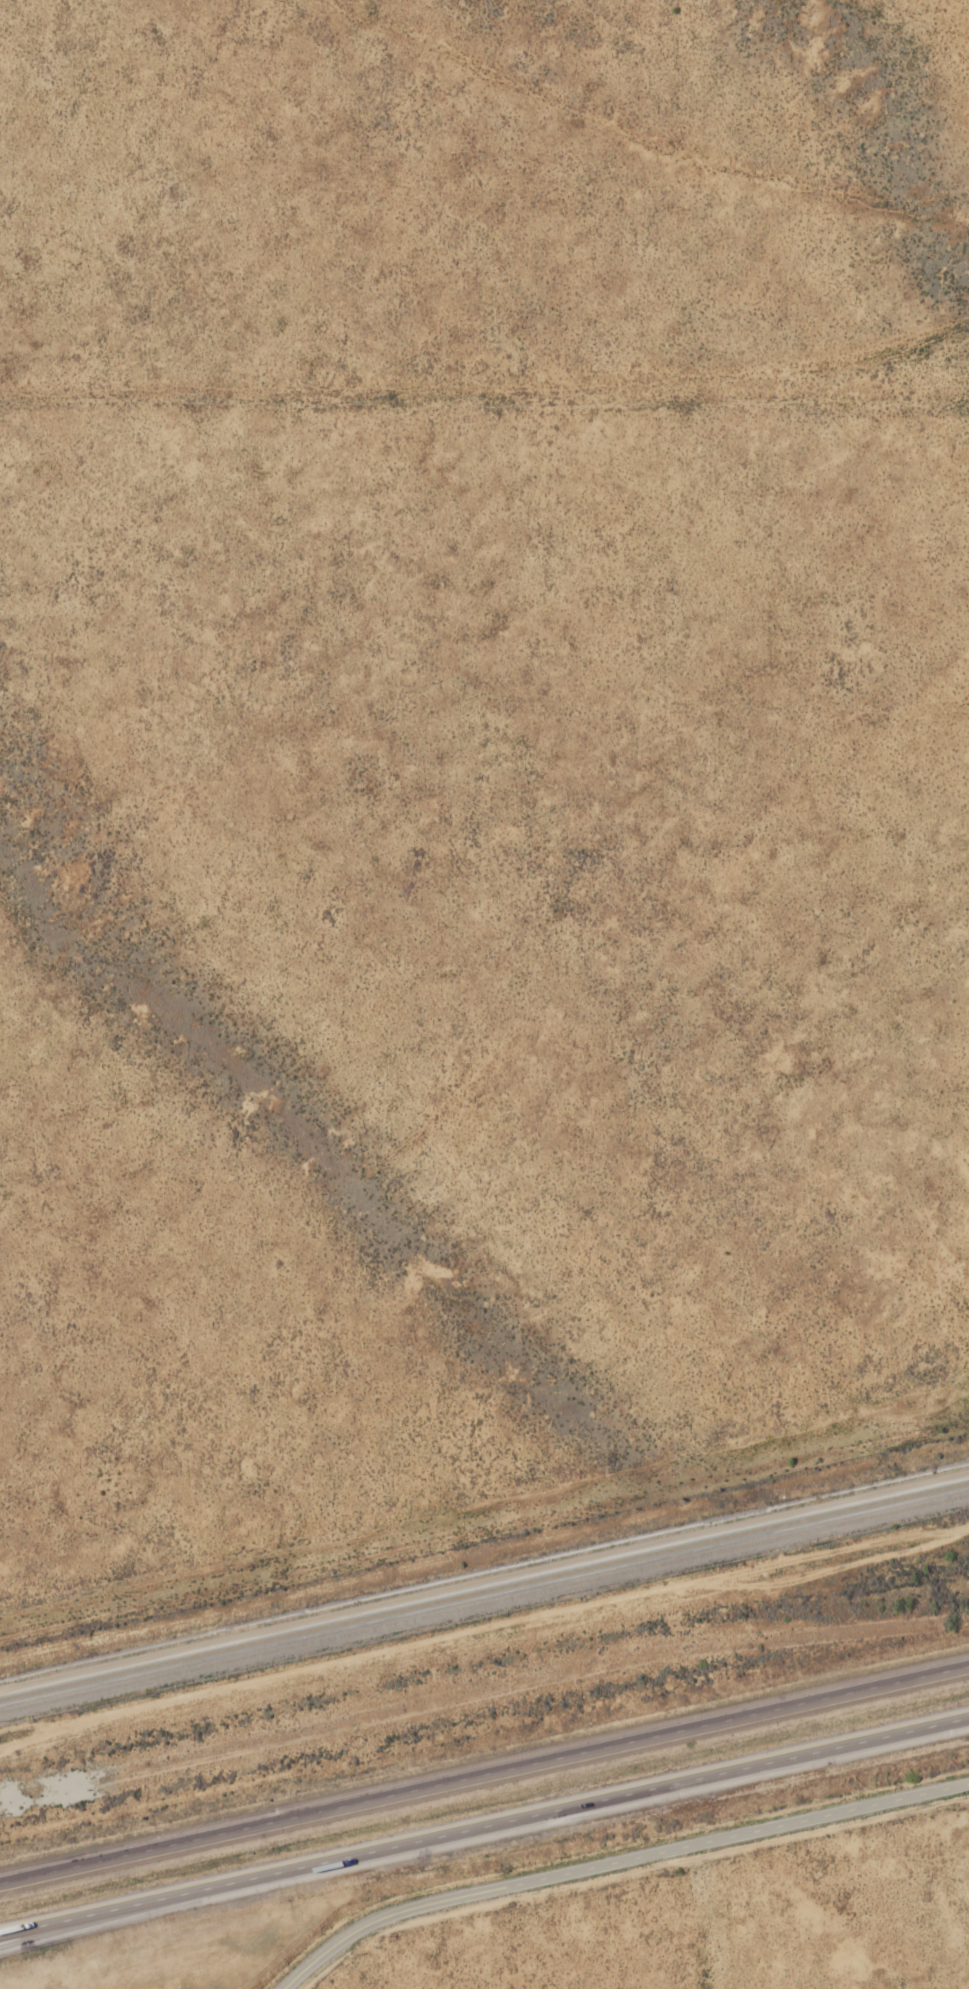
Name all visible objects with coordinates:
railway: (484, 1589)
railway: (484, 1601)
road: (484, 1775)
road: (484, 1826)
road: (621, 1864)
road: (45, 1929)

